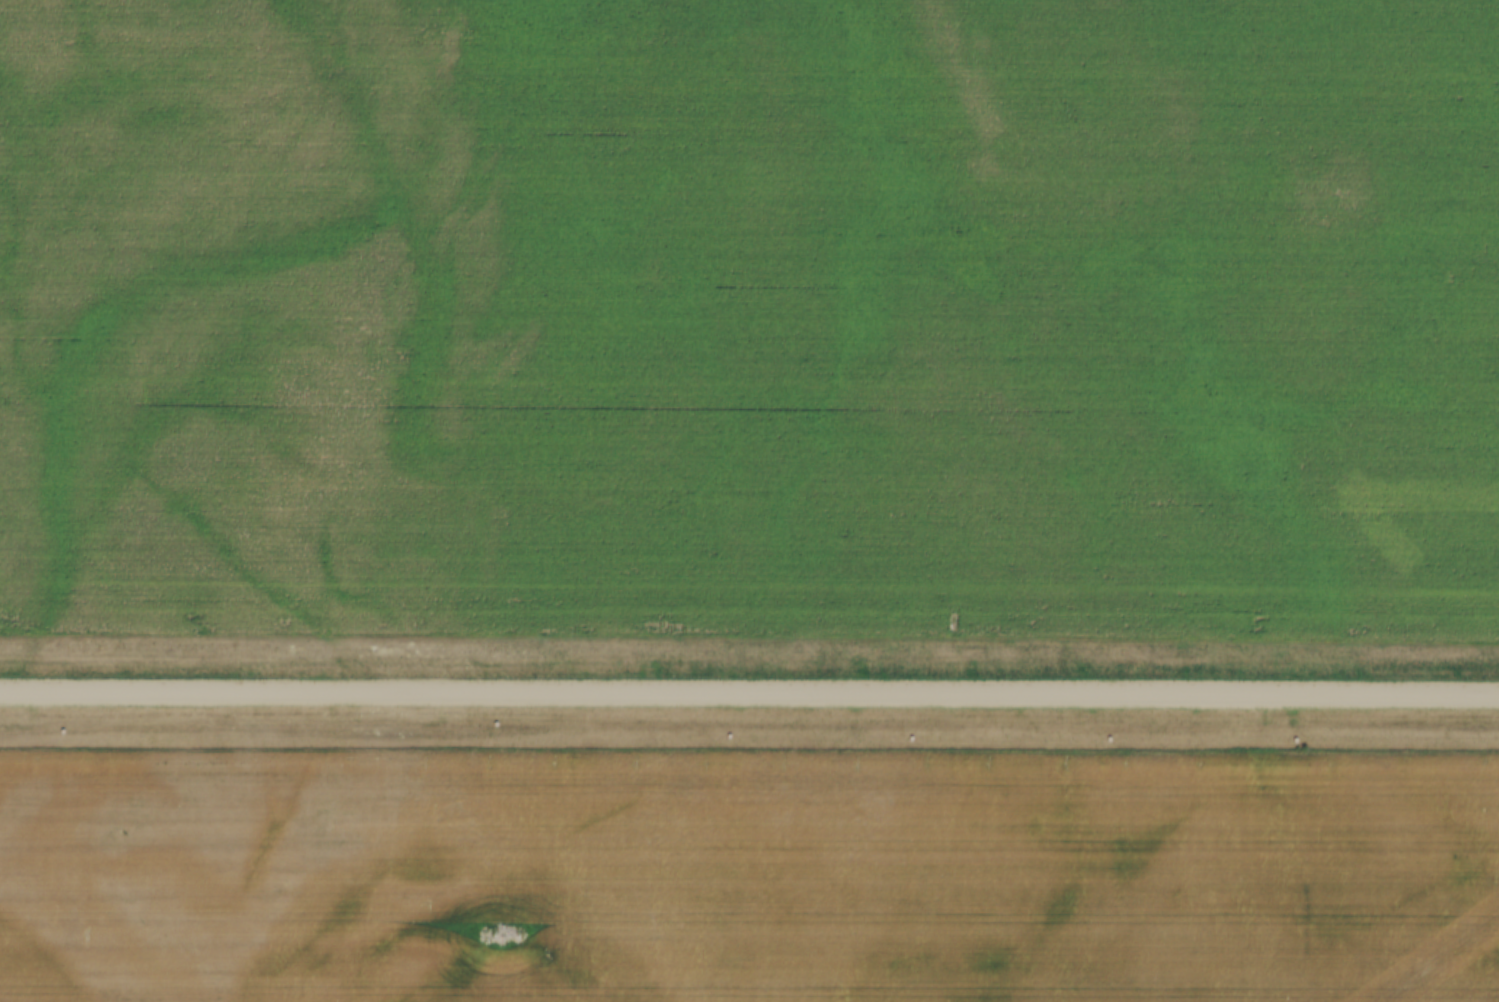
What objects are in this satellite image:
road: (749, 691)

